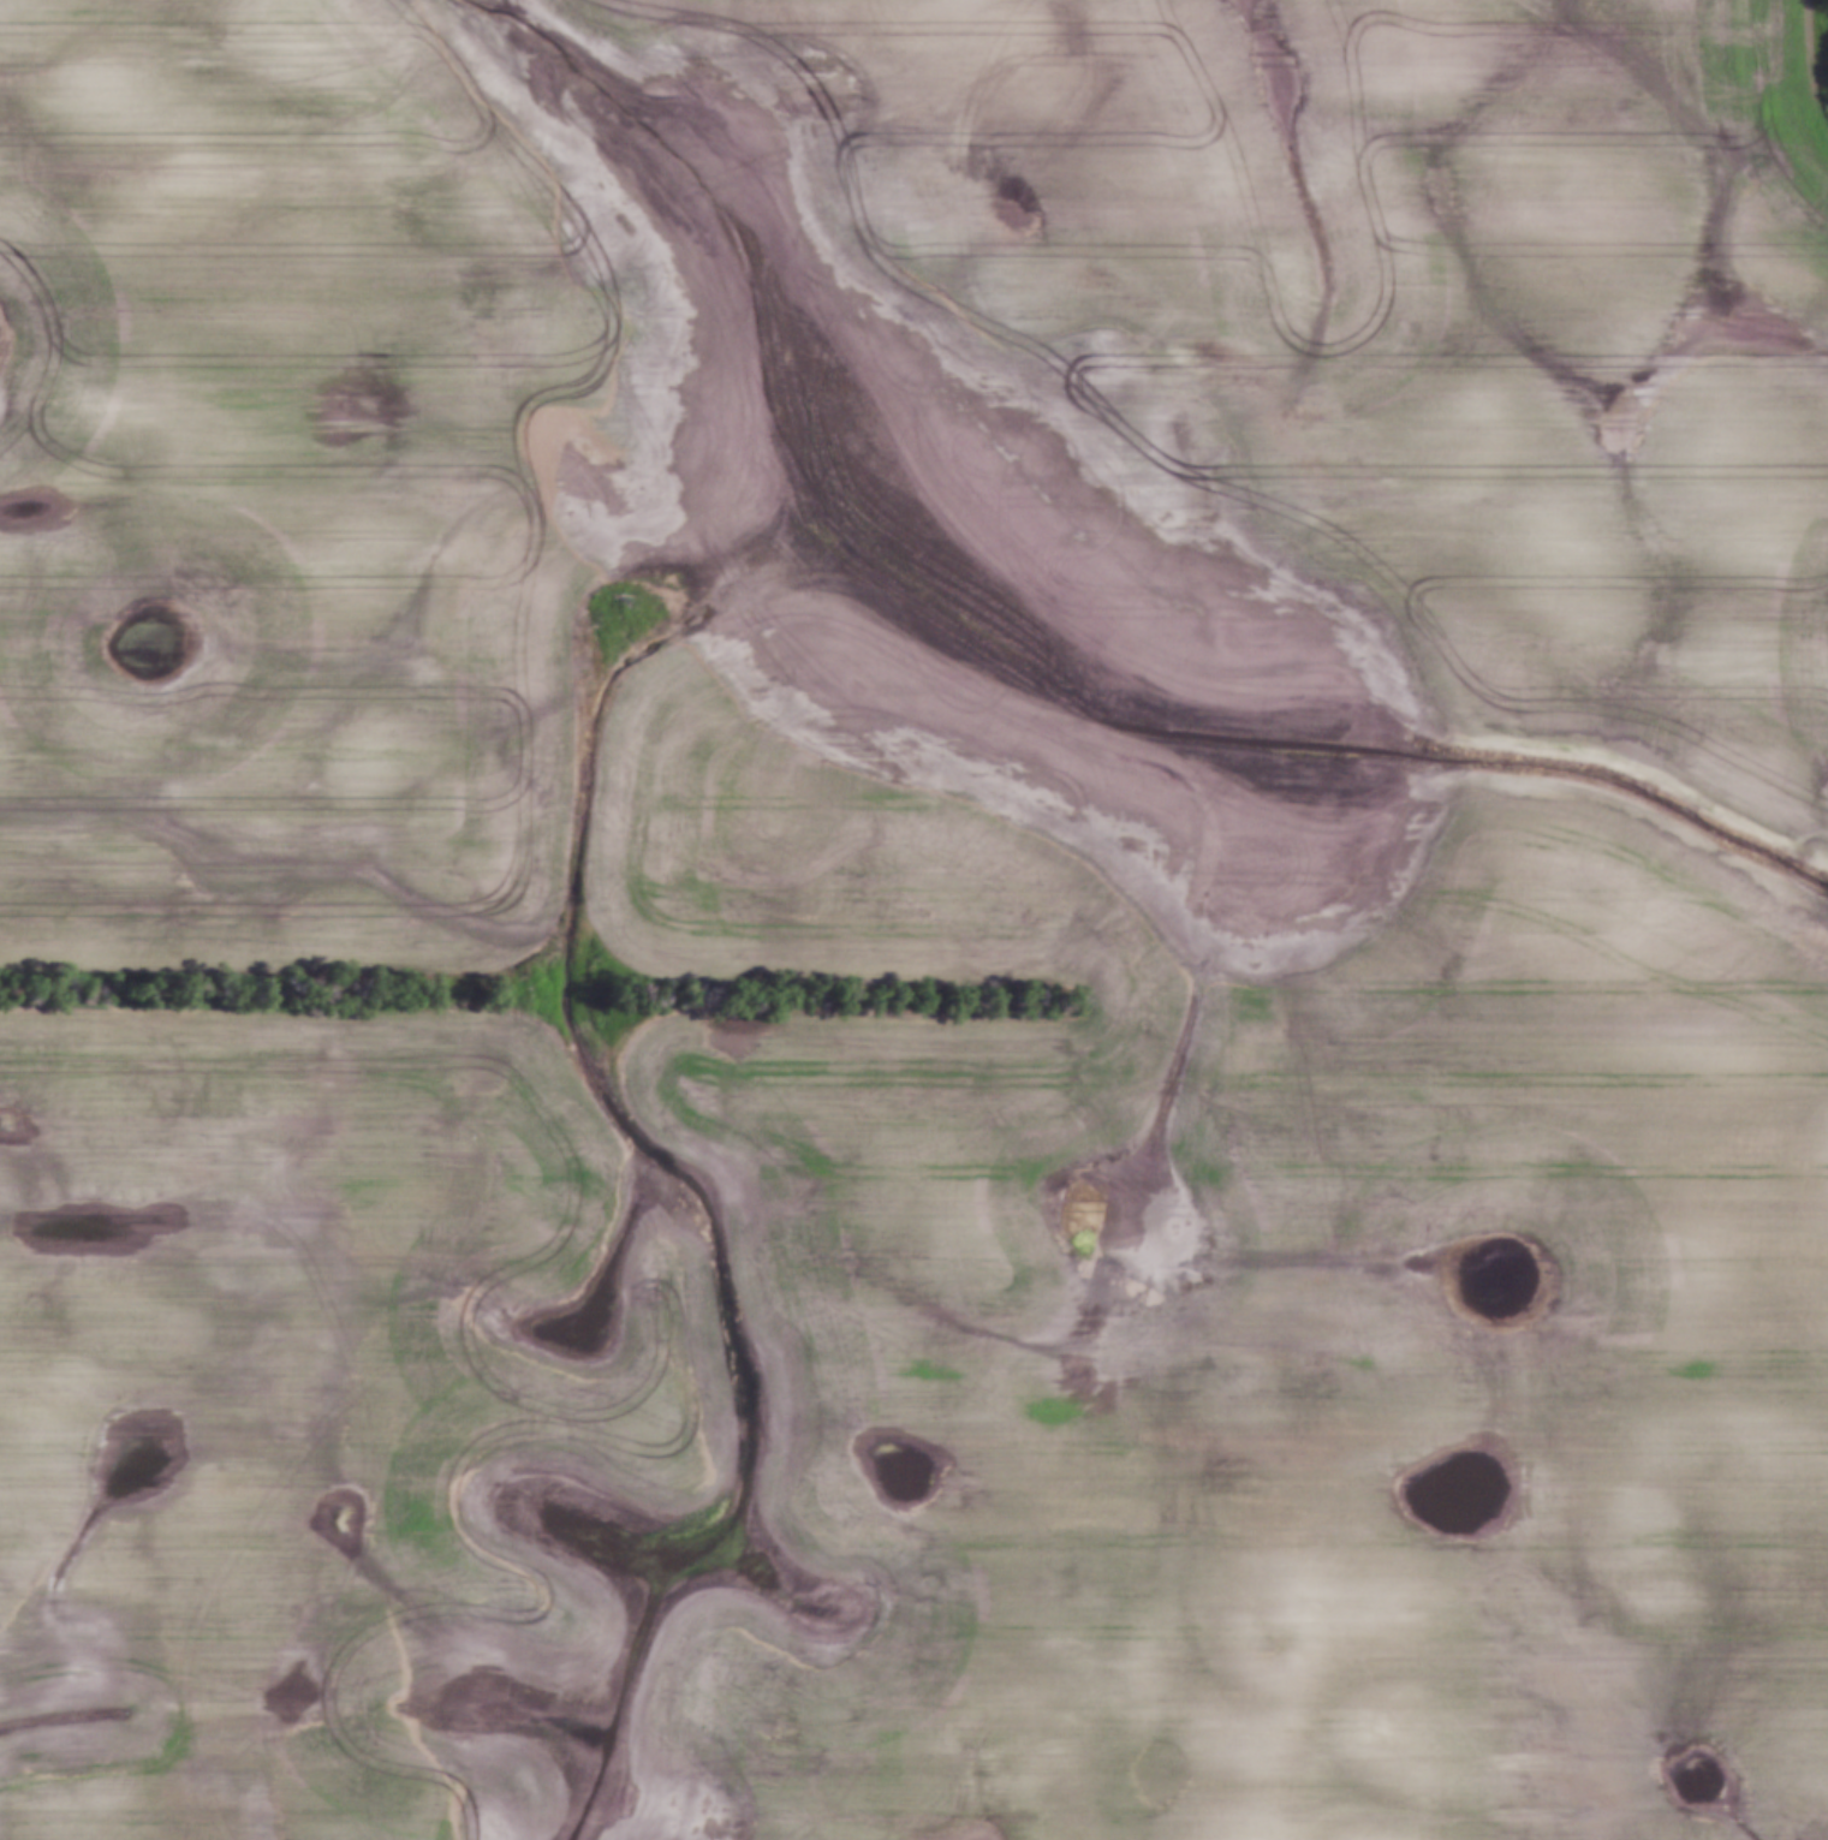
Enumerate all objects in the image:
road: (1808, 54)

